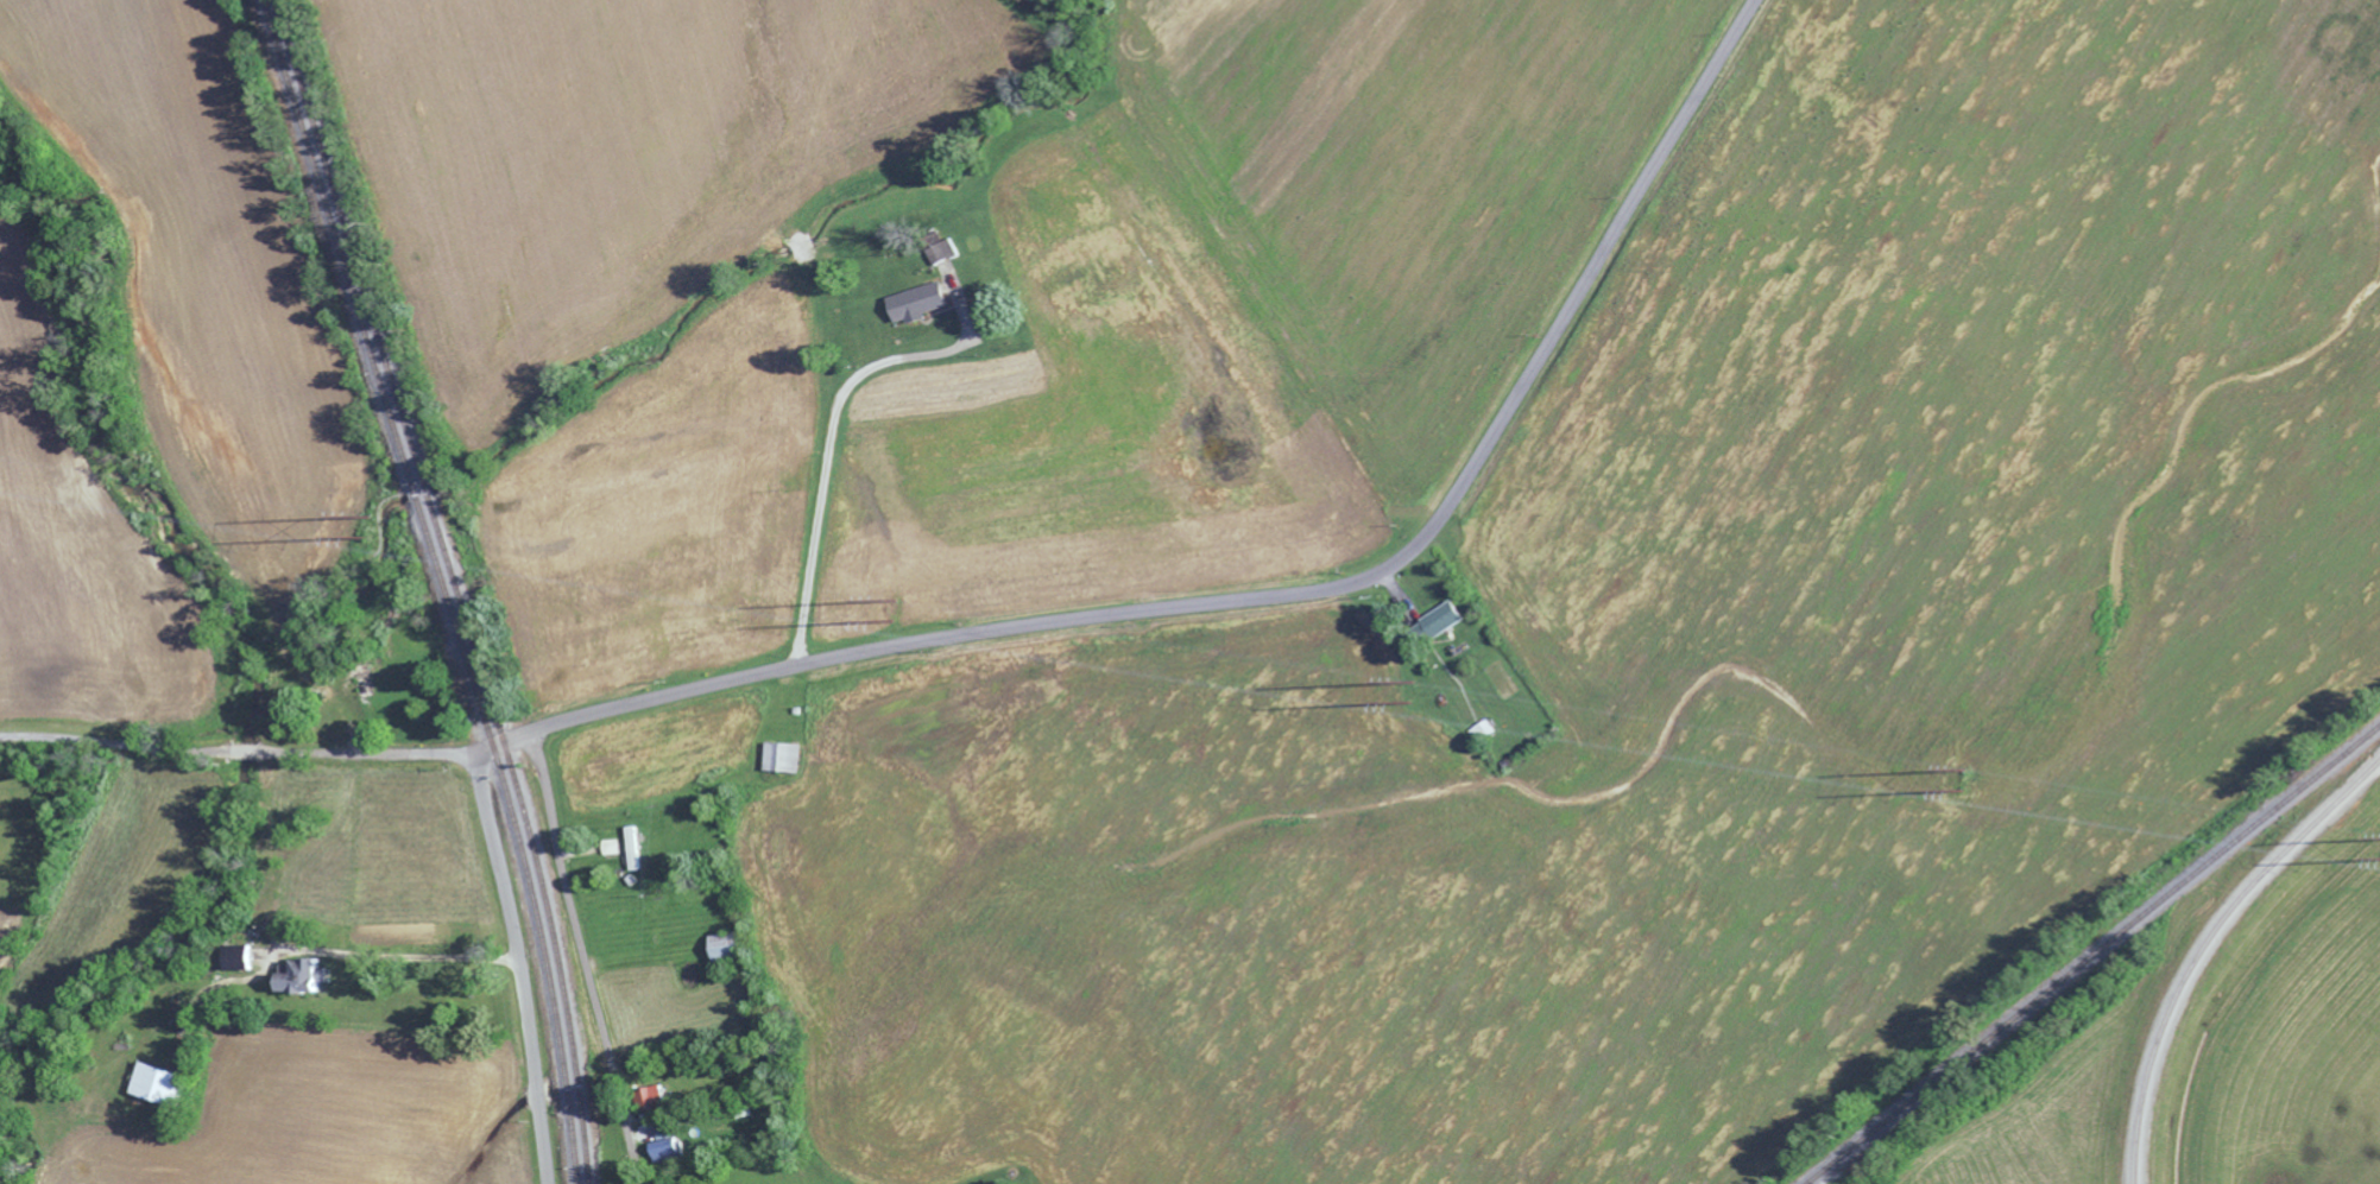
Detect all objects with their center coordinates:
building: (922, 302)
road: (832, 437)
power tower: (364, 528)
railway: (440, 587)
railway: (453, 587)
road: (1258, 593)
power tower: (895, 612)
building: (1441, 622)
power tower: (1408, 692)
road: (234, 753)
building: (787, 755)
power tower: (1959, 780)
building: (637, 847)
building: (733, 945)
road: (397, 952)
railway: (2091, 952)
building: (247, 955)
road: (581, 956)
road: (518, 964)
building: (308, 974)
building: (164, 1082)
building: (669, 1147)

